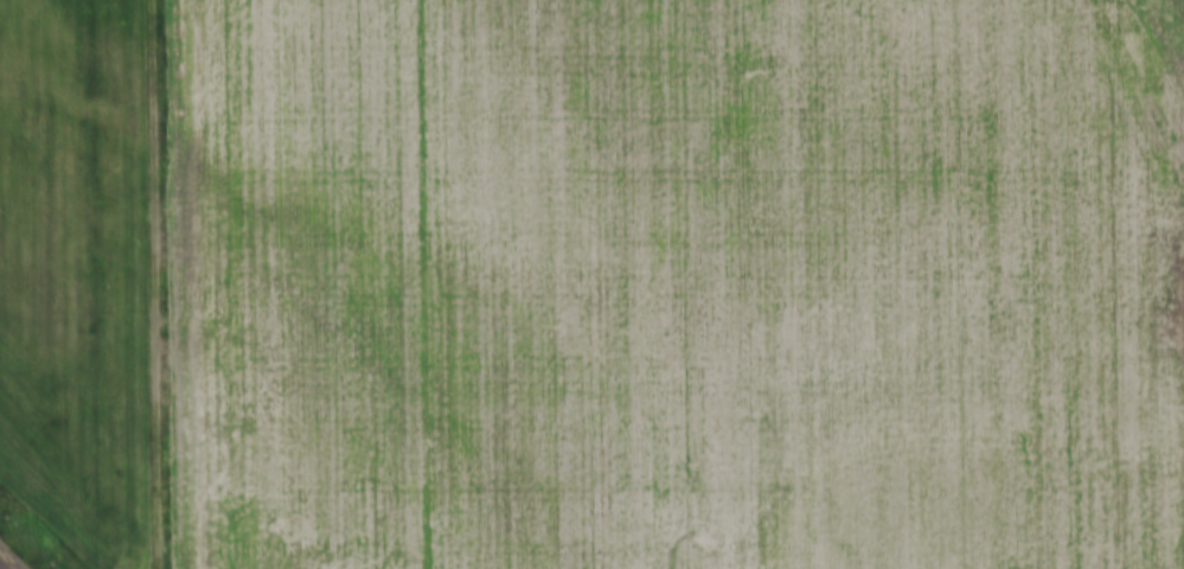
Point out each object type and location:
road: (167, 283)

